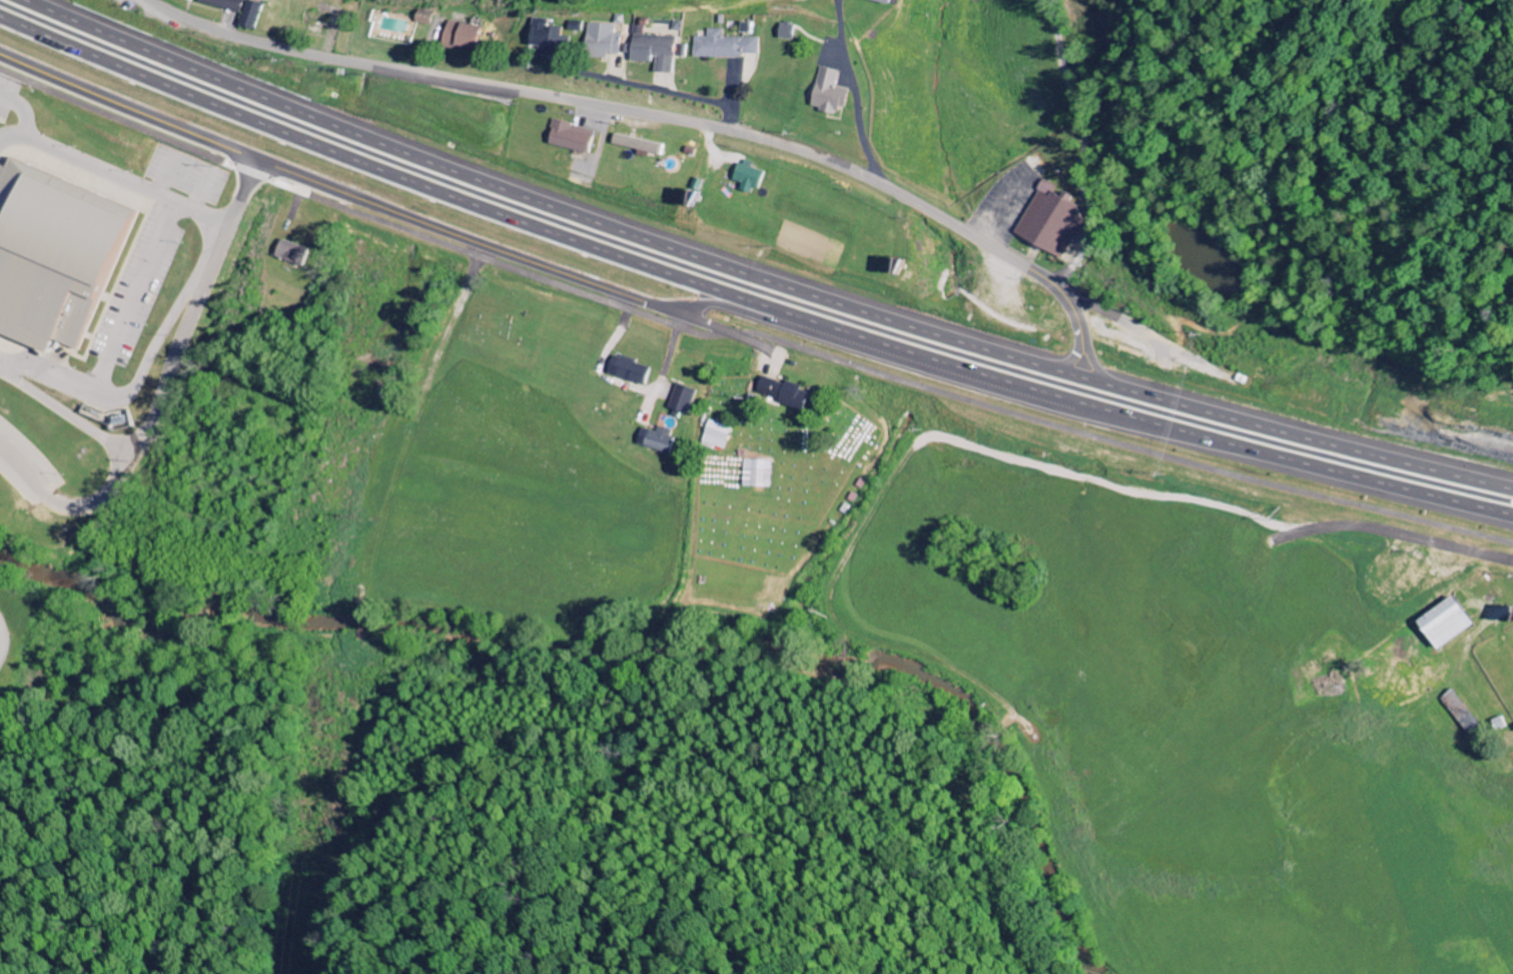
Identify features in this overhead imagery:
building: (193, 0)
building: (893, 2)
building: (226, 4)
building: (253, 15)
building: (577, 28)
building: (792, 32)
building: (465, 36)
building: (546, 36)
building: (606, 40)
building: (728, 46)
building: (657, 50)
building: (834, 93)
road: (662, 114)
building: (575, 138)
building: (641, 146)
road: (1082, 146)
building: (752, 177)
road: (336, 188)
building: (1053, 221)
building: (294, 253)
building: (53, 258)
road: (759, 271)
road: (744, 300)
building: (635, 371)
building: (789, 393)
building: (684, 399)
building: (717, 435)
building: (660, 441)
building: (1453, 624)
river: (485, 636)
river: (1060, 831)

